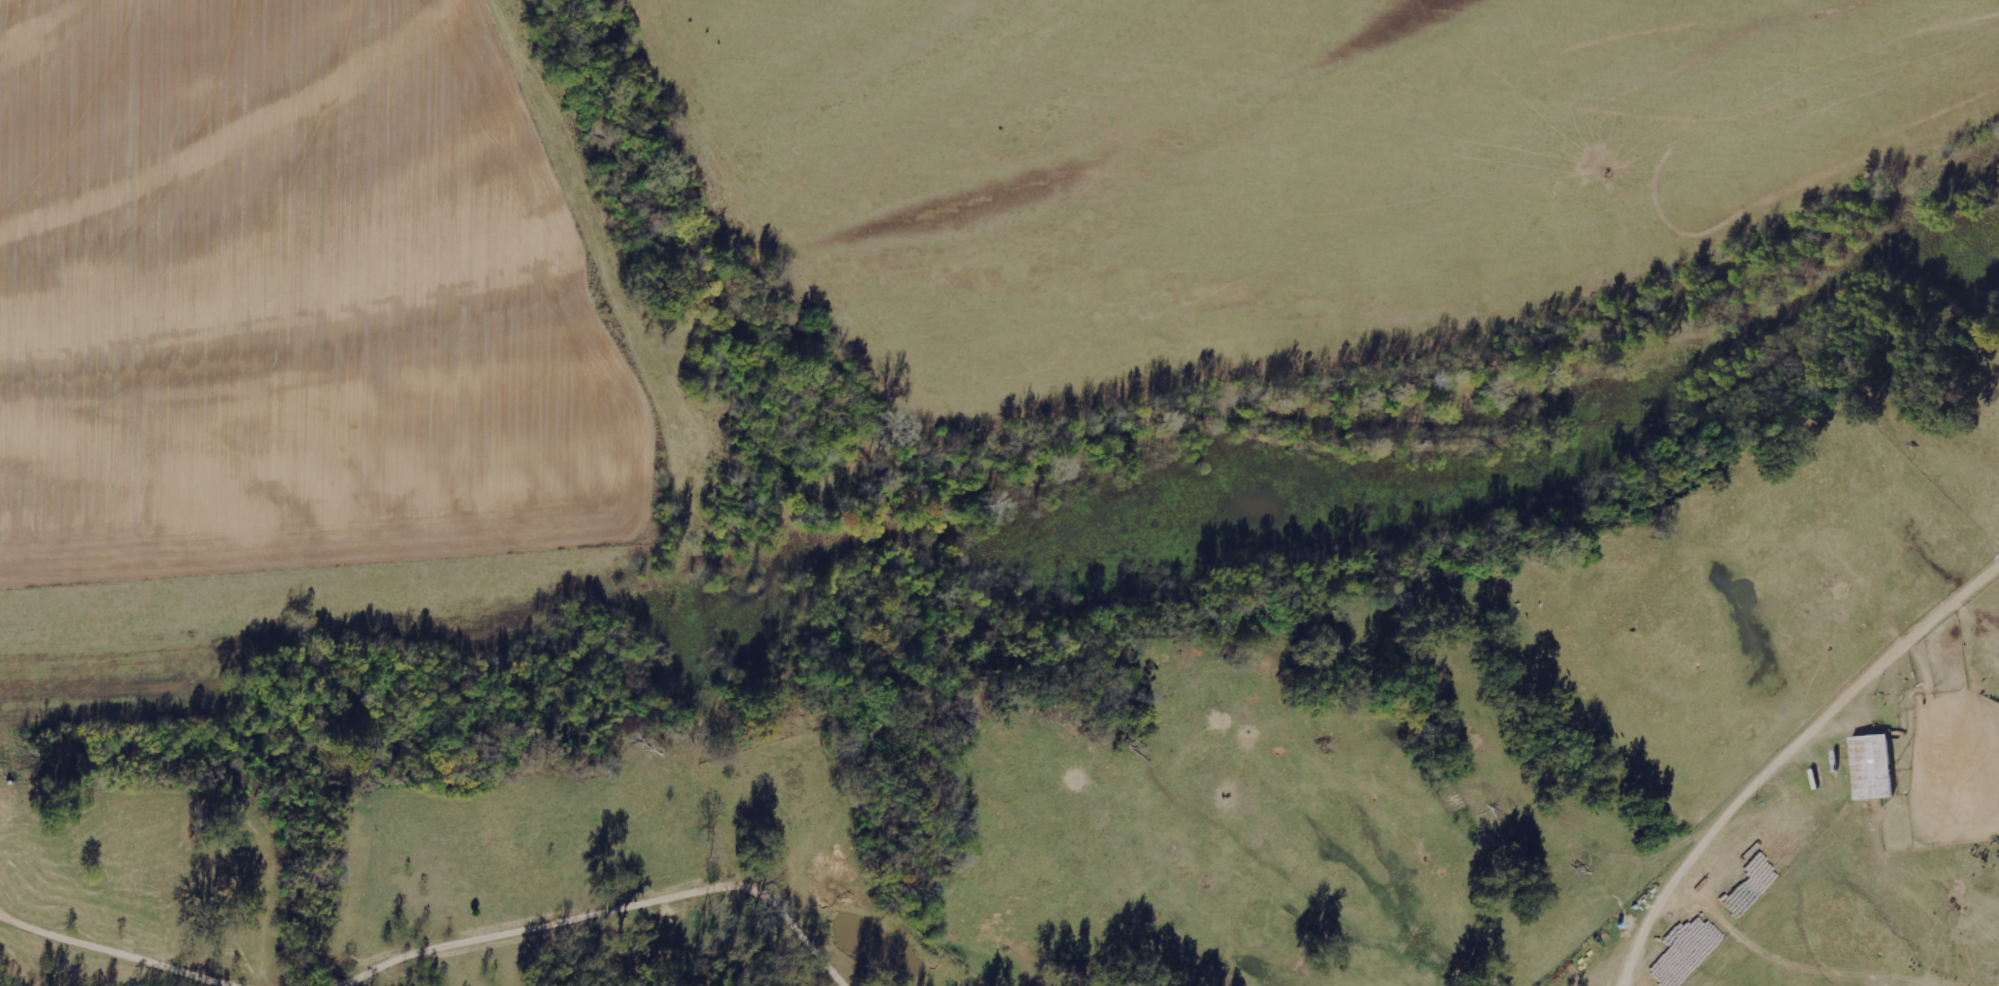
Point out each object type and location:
building: (1873, 766)
road: (1700, 840)

